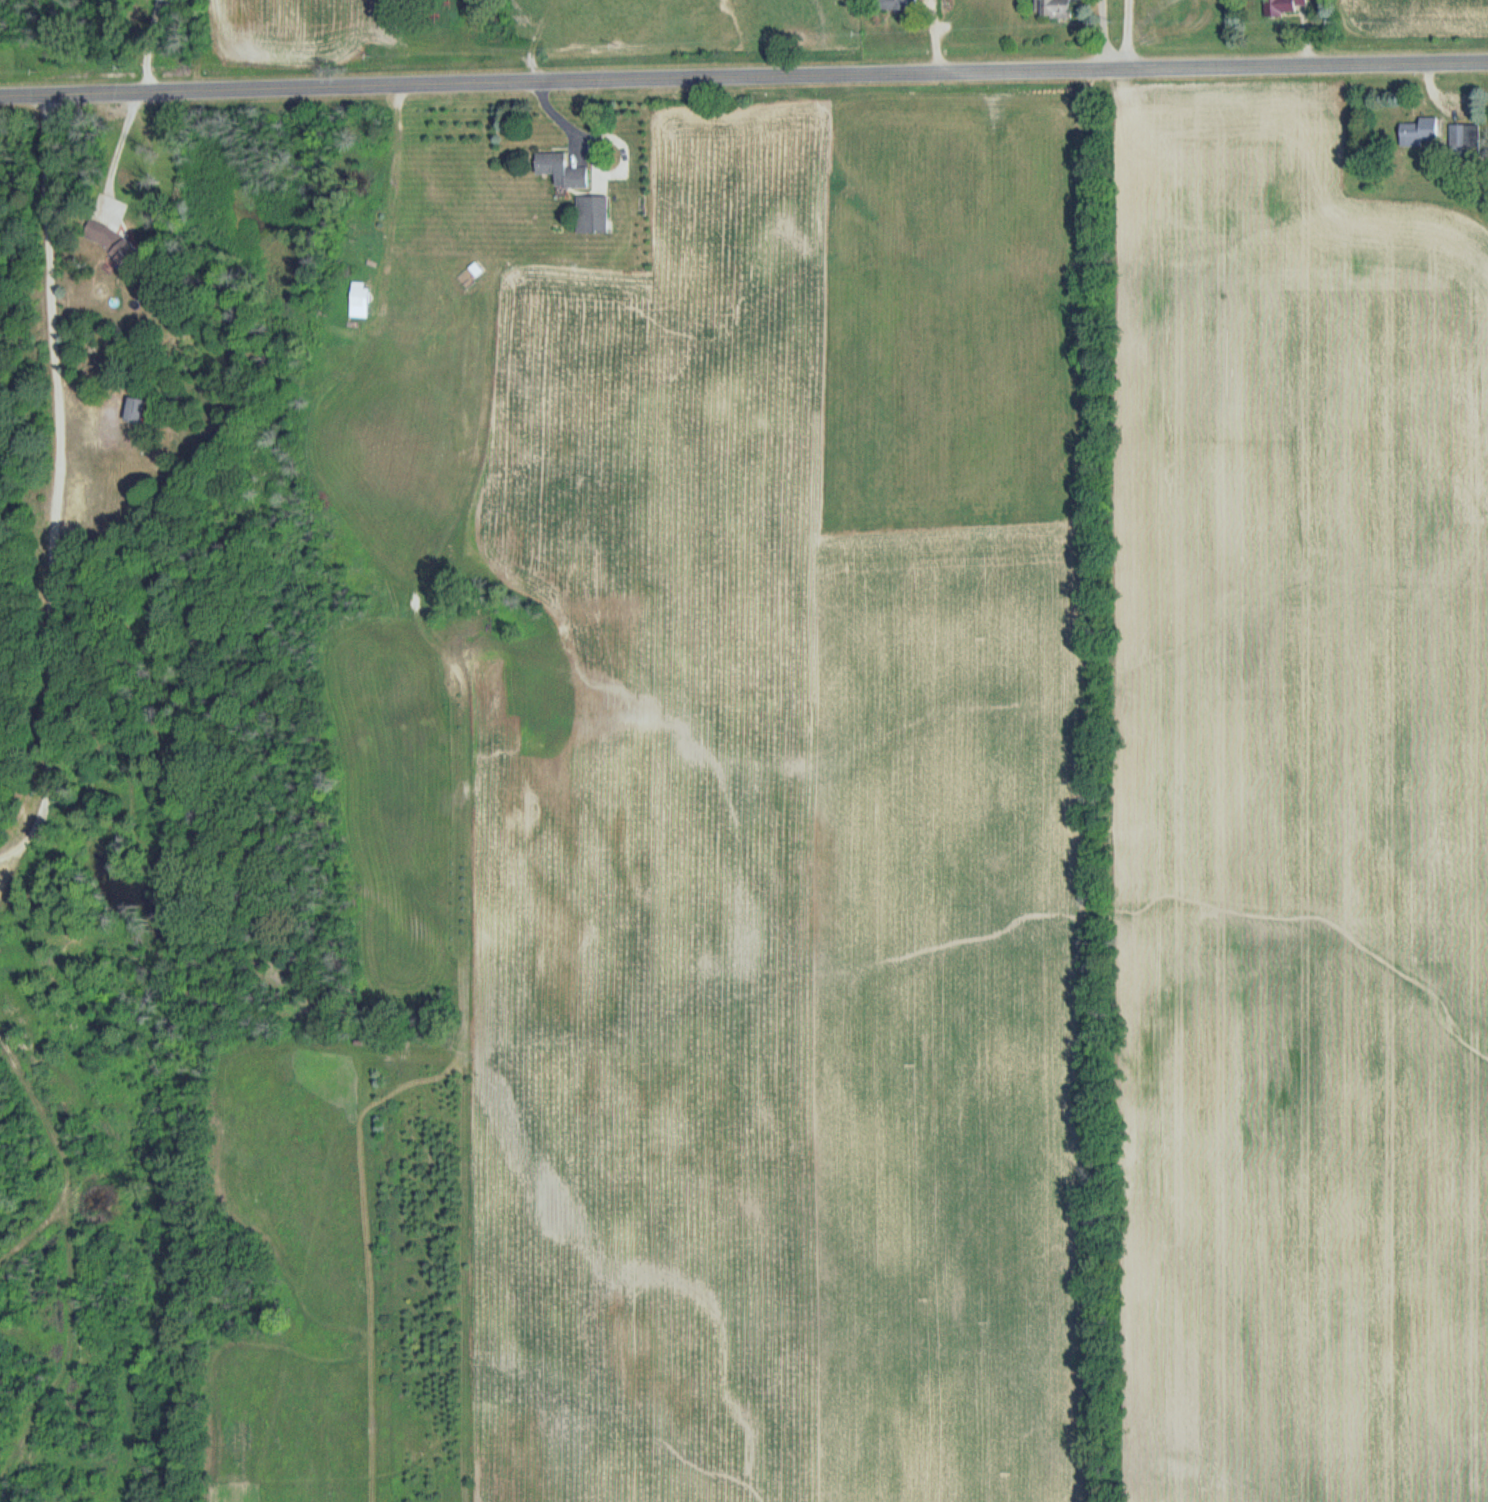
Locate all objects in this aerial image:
building: (901, 5)
building: (1291, 6)
building: (1060, 8)
road: (1109, 35)
road: (1130, 35)
road: (147, 44)
road: (743, 77)
building: (1420, 133)
building: (1464, 136)
road: (116, 153)
building: (562, 171)
building: (593, 215)
building: (105, 221)
building: (136, 411)
road: (55, 484)
crop: (936, 849)

